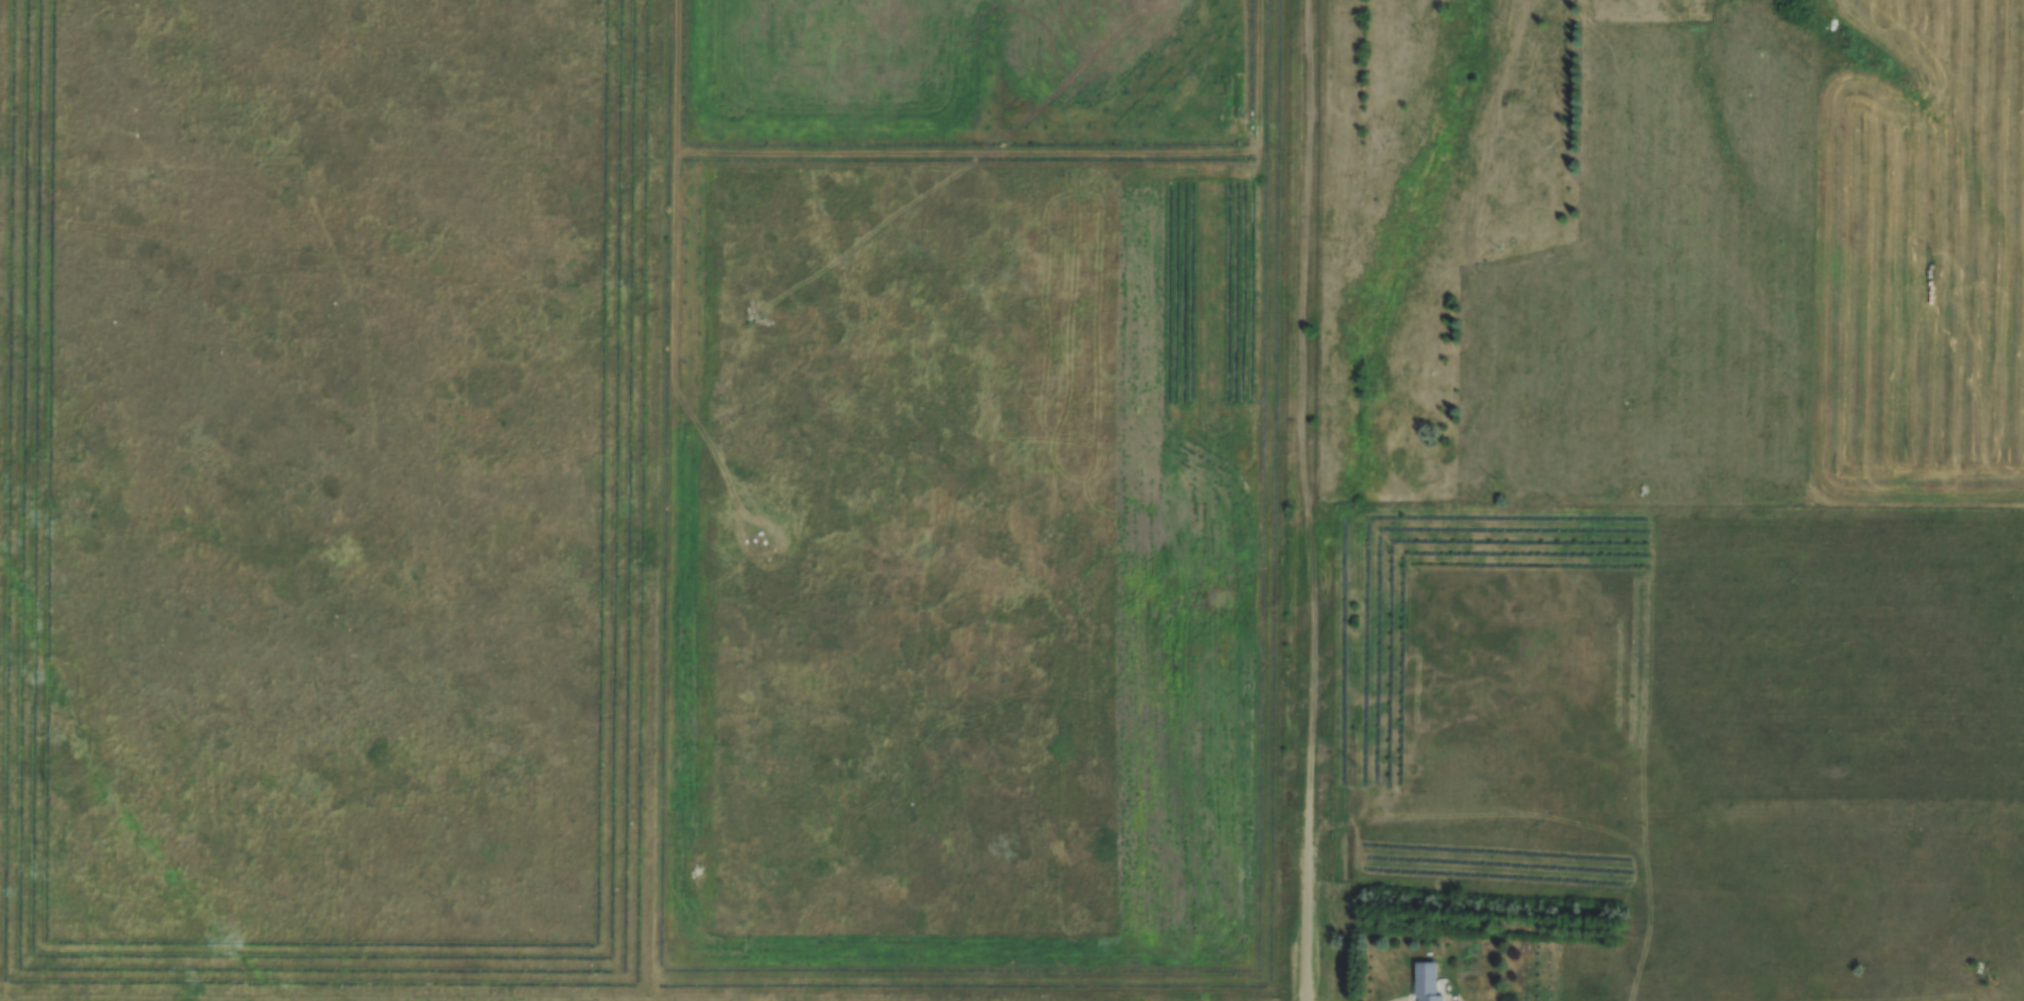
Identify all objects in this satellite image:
road: (1302, 398)
road: (1307, 898)
building: (1429, 981)

